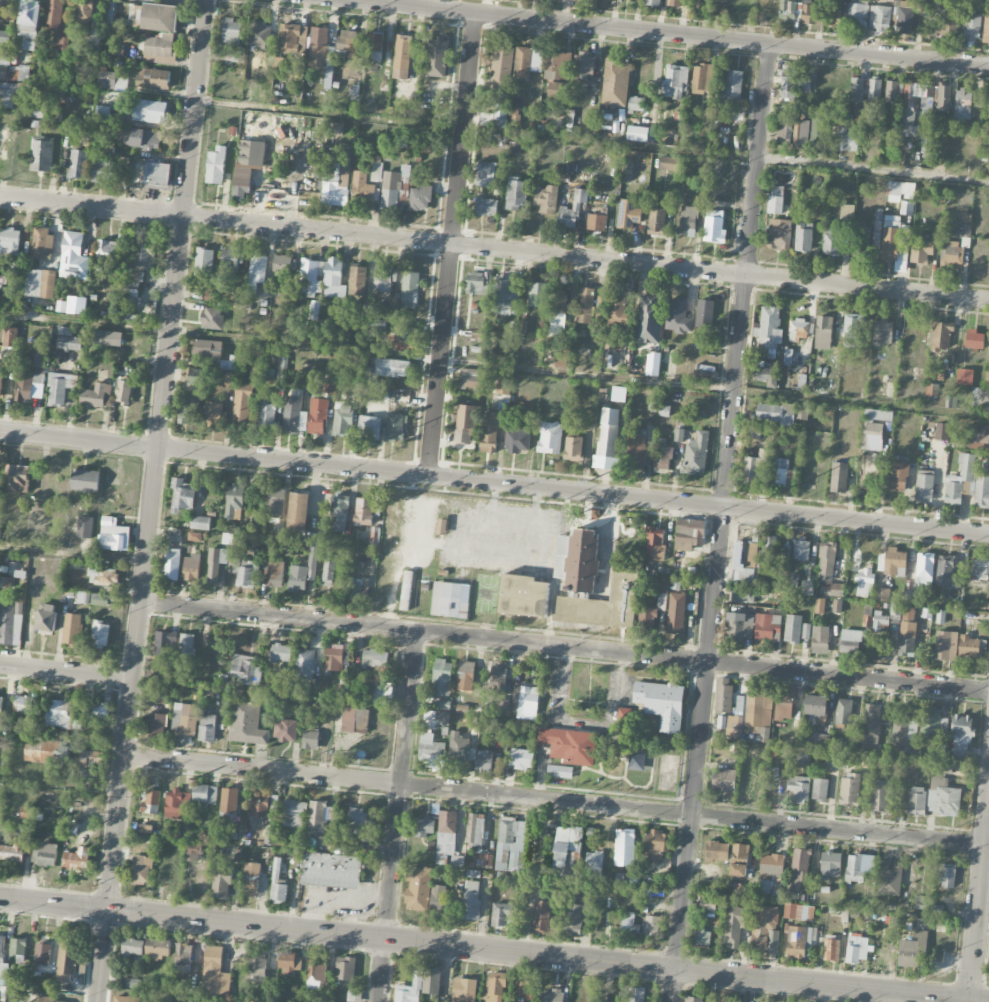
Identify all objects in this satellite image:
building: (772, 0)
building: (567, 1)
building: (653, 2)
building: (5, 10)
building: (787, 10)
building: (84, 12)
building: (832, 13)
building: (857, 13)
building: (905, 13)
building: (810, 14)
building: (155, 17)
building: (879, 18)
building: (948, 20)
building: (30, 23)
building: (972, 25)
building: (986, 26)
building: (57, 27)
building: (231, 32)
road: (672, 32)
building: (5, 37)
building: (292, 38)
building: (92, 39)
building: (348, 42)
building: (374, 46)
building: (318, 47)
building: (159, 48)
building: (240, 54)
building: (402, 57)
building: (436, 57)
building: (527, 62)
building: (584, 65)
building: (4, 66)
building: (556, 66)
building: (502, 67)
building: (25, 72)
building: (153, 78)
building: (702, 78)
building: (113, 80)
building: (675, 81)
building: (788, 82)
building: (804, 82)
building: (616, 83)
building: (733, 85)
building: (857, 86)
building: (875, 89)
building: (893, 91)
building: (7, 94)
building: (944, 97)
building: (966, 102)
building: (636, 104)
building: (150, 111)
building: (102, 113)
building: (918, 113)
building: (515, 115)
building: (495, 116)
building: (70, 126)
building: (792, 128)
building: (637, 133)
building: (818, 134)
building: (125, 137)
building: (144, 139)
road: (592, 139)
building: (846, 139)
building: (42, 155)
building: (669, 163)
building: (78, 164)
building: (215, 165)
building: (246, 165)
building: (104, 172)
building: (157, 173)
building: (485, 174)
building: (337, 180)
building: (362, 188)
building: (393, 188)
building: (902, 189)
building: (516, 195)
building: (420, 198)
building: (547, 200)
building: (775, 200)
building: (485, 206)
building: (906, 208)
building: (572, 210)
building: (628, 214)
building: (878, 220)
building: (656, 221)
building: (688, 221)
building: (596, 222)
building: (714, 227)
building: (779, 234)
building: (803, 237)
building: (832, 240)
building: (9, 242)
building: (42, 243)
road: (451, 244)
building: (895, 244)
road: (494, 248)
building: (108, 250)
building: (921, 251)
building: (952, 252)
building: (74, 257)
building: (143, 257)
building: (231, 259)
building: (204, 262)
building: (284, 264)
building: (257, 271)
building: (138, 276)
building: (309, 276)
building: (384, 278)
building: (334, 280)
building: (357, 281)
building: (40, 283)
building: (475, 283)
building: (409, 290)
building: (538, 294)
building: (138, 296)
building: (503, 297)
building: (77, 305)
building: (585, 306)
building: (619, 309)
building: (314, 310)
building: (558, 310)
building: (705, 313)
building: (363, 314)
building: (678, 315)
building: (212, 318)
building: (649, 319)
road: (85, 322)
building: (768, 329)
building: (798, 330)
building: (852, 330)
building: (883, 332)
building: (823, 333)
building: (941, 335)
building: (11, 337)
building: (108, 338)
building: (404, 339)
building: (974, 339)
building: (68, 340)
building: (616, 343)
building: (209, 351)
building: (988, 352)
building: (392, 368)
building: (705, 371)
building: (281, 372)
building: (766, 373)
building: (124, 374)
road: (579, 374)
building: (197, 376)
building: (964, 376)
building: (230, 378)
building: (470, 378)
building: (30, 380)
building: (1, 383)
building: (243, 386)
building: (502, 386)
building: (60, 387)
building: (124, 393)
building: (983, 393)
building: (95, 396)
building: (241, 407)
building: (188, 410)
building: (802, 412)
building: (775, 413)
building: (215, 414)
building: (267, 414)
building: (294, 415)
building: (317, 416)
building: (342, 421)
building: (464, 424)
building: (396, 427)
building: (874, 428)
building: (369, 429)
building: (942, 431)
power tower: (146, 432)
building: (489, 432)
building: (608, 432)
building: (769, 432)
building: (978, 433)
building: (550, 437)
building: (517, 442)
building: (573, 448)
building: (636, 451)
power tower: (355, 454)
building: (696, 454)
building: (662, 455)
building: (755, 466)
building: (781, 471)
building: (898, 475)
building: (839, 477)
building: (17, 478)
power tower: (590, 479)
building: (961, 479)
building: (85, 480)
road: (494, 483)
building: (925, 485)
building: (982, 491)
building: (183, 494)
power tower: (767, 498)
road: (151, 500)
building: (234, 502)
building: (275, 502)
building: (298, 511)
building: (363, 511)
building: (339, 513)
building: (391, 520)
road: (721, 522)
building: (200, 523)
building: (274, 524)
building: (85, 527)
building: (690, 534)
building: (113, 535)
building: (195, 536)
building: (374, 541)
building: (655, 543)
building: (769, 548)
building: (801, 550)
road: (72, 554)
building: (785, 556)
building: (827, 557)
building: (577, 560)
building: (895, 561)
building: (745, 562)
building: (172, 563)
building: (215, 563)
building: (981, 566)
building: (191, 567)
building: (925, 568)
building: (244, 572)
building: (947, 572)
building: (275, 573)
building: (328, 573)
building: (19, 574)
building: (303, 574)
building: (102, 577)
building: (793, 581)
building: (864, 582)
building: (663, 585)
building: (807, 587)
building: (356, 588)
building: (406, 590)
building: (834, 590)
building: (882, 594)
building: (524, 596)
building: (743, 596)
building: (83, 597)
building: (912, 597)
building: (99, 600)
building: (450, 600)
building: (612, 602)
building: (820, 605)
building: (676, 613)
building: (895, 614)
building: (646, 619)
building: (880, 621)
building: (46, 622)
building: (10, 624)
building: (739, 627)
building: (768, 627)
building: (792, 628)
building: (71, 629)
building: (806, 631)
building: (907, 631)
building: (100, 634)
building: (820, 638)
building: (850, 641)
building: (165, 642)
building: (187, 644)
building: (945, 645)
road: (564, 646)
building: (969, 646)
building: (281, 653)
building: (375, 658)
building: (333, 659)
building: (305, 665)
building: (247, 669)
road: (66, 671)
building: (465, 675)
building: (498, 676)
building: (441, 677)
building: (381, 693)
building: (723, 695)
building: (526, 701)
building: (661, 703)
building: (23, 704)
building: (442, 704)
building: (785, 704)
building: (502, 705)
building: (739, 706)
building: (816, 706)
building: (1, 708)
building: (96, 711)
building: (843, 711)
building: (759, 713)
building: (61, 715)
building: (624, 715)
building: (185, 718)
building: (435, 718)
building: (355, 719)
building: (156, 723)
building: (246, 723)
building: (933, 723)
building: (207, 728)
building: (871, 729)
building: (285, 730)
building: (904, 734)
building: (961, 735)
building: (310, 740)
building: (818, 740)
building: (570, 745)
building: (459, 747)
building: (48, 750)
building: (432, 752)
building: (91, 758)
building: (805, 758)
building: (521, 759)
building: (484, 761)
building: (834, 761)
building: (559, 771)
building: (774, 773)
building: (88, 774)
building: (725, 780)
road: (60, 781)
building: (799, 787)
building: (819, 789)
building: (850, 790)
building: (943, 791)
building: (205, 793)
building: (880, 795)
road: (553, 799)
building: (917, 801)
building: (151, 802)
building: (177, 804)
building: (229, 805)
building: (273, 806)
building: (259, 809)
building: (294, 813)
road: (397, 816)
building: (317, 817)
building: (361, 822)
building: (425, 826)
building: (72, 828)
building: (145, 829)
building: (475, 833)
building: (447, 839)
building: (566, 844)
building: (511, 845)
building: (656, 845)
building: (625, 847)
building: (194, 851)
building: (717, 851)
building: (740, 851)
building: (13, 852)
building: (45, 854)
building: (75, 858)
building: (486, 860)
building: (571, 860)
building: (830, 864)
building: (594, 865)
building: (772, 865)
building: (800, 865)
building: (859, 867)
building: (141, 870)
building: (331, 870)
building: (738, 870)
building: (947, 874)
building: (251, 879)
building: (222, 882)
road: (985, 882)
building: (278, 883)
building: (418, 888)
building: (438, 900)
building: (471, 900)
road: (978, 902)
building: (707, 905)
building: (937, 909)
building: (798, 912)
building: (502, 914)
building: (541, 916)
building: (574, 919)
building: (628, 920)
building: (735, 925)
building: (651, 926)
building: (765, 930)
building: (703, 937)
building: (801, 942)
building: (132, 947)
road: (494, 947)
building: (857, 948)
building: (912, 948)
building: (18, 949)
building: (157, 949)
building: (831, 950)
building: (42, 954)
building: (183, 956)
building: (3, 960)
building: (66, 962)
building: (290, 963)
building: (257, 966)
building: (345, 968)
building: (215, 974)
building: (315, 974)
building: (431, 981)
building: (133, 982)
building: (495, 987)
building: (409, 989)
building: (464, 990)
building: (525, 991)
building: (636, 994)
building: (551, 995)
traffic signals: (969, 998)
building: (693, 999)
building: (49, 1000)
road: (968, 1000)
building: (230, 1001)

